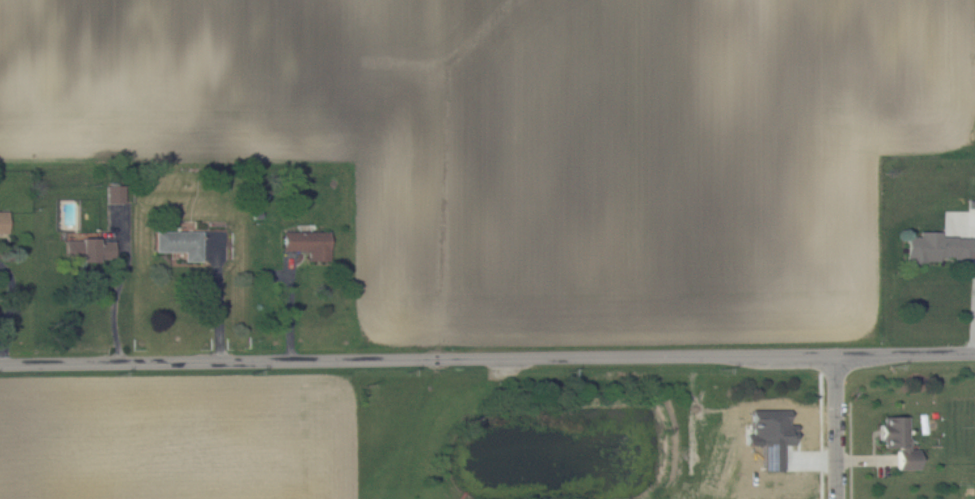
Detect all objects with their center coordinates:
building: (115, 193)
building: (3, 221)
building: (180, 242)
building: (308, 242)
building: (938, 246)
building: (88, 248)
road: (13, 295)
road: (116, 301)
road: (292, 307)
road: (1, 324)
road: (2, 342)
road: (487, 358)
road: (835, 428)
building: (899, 440)

